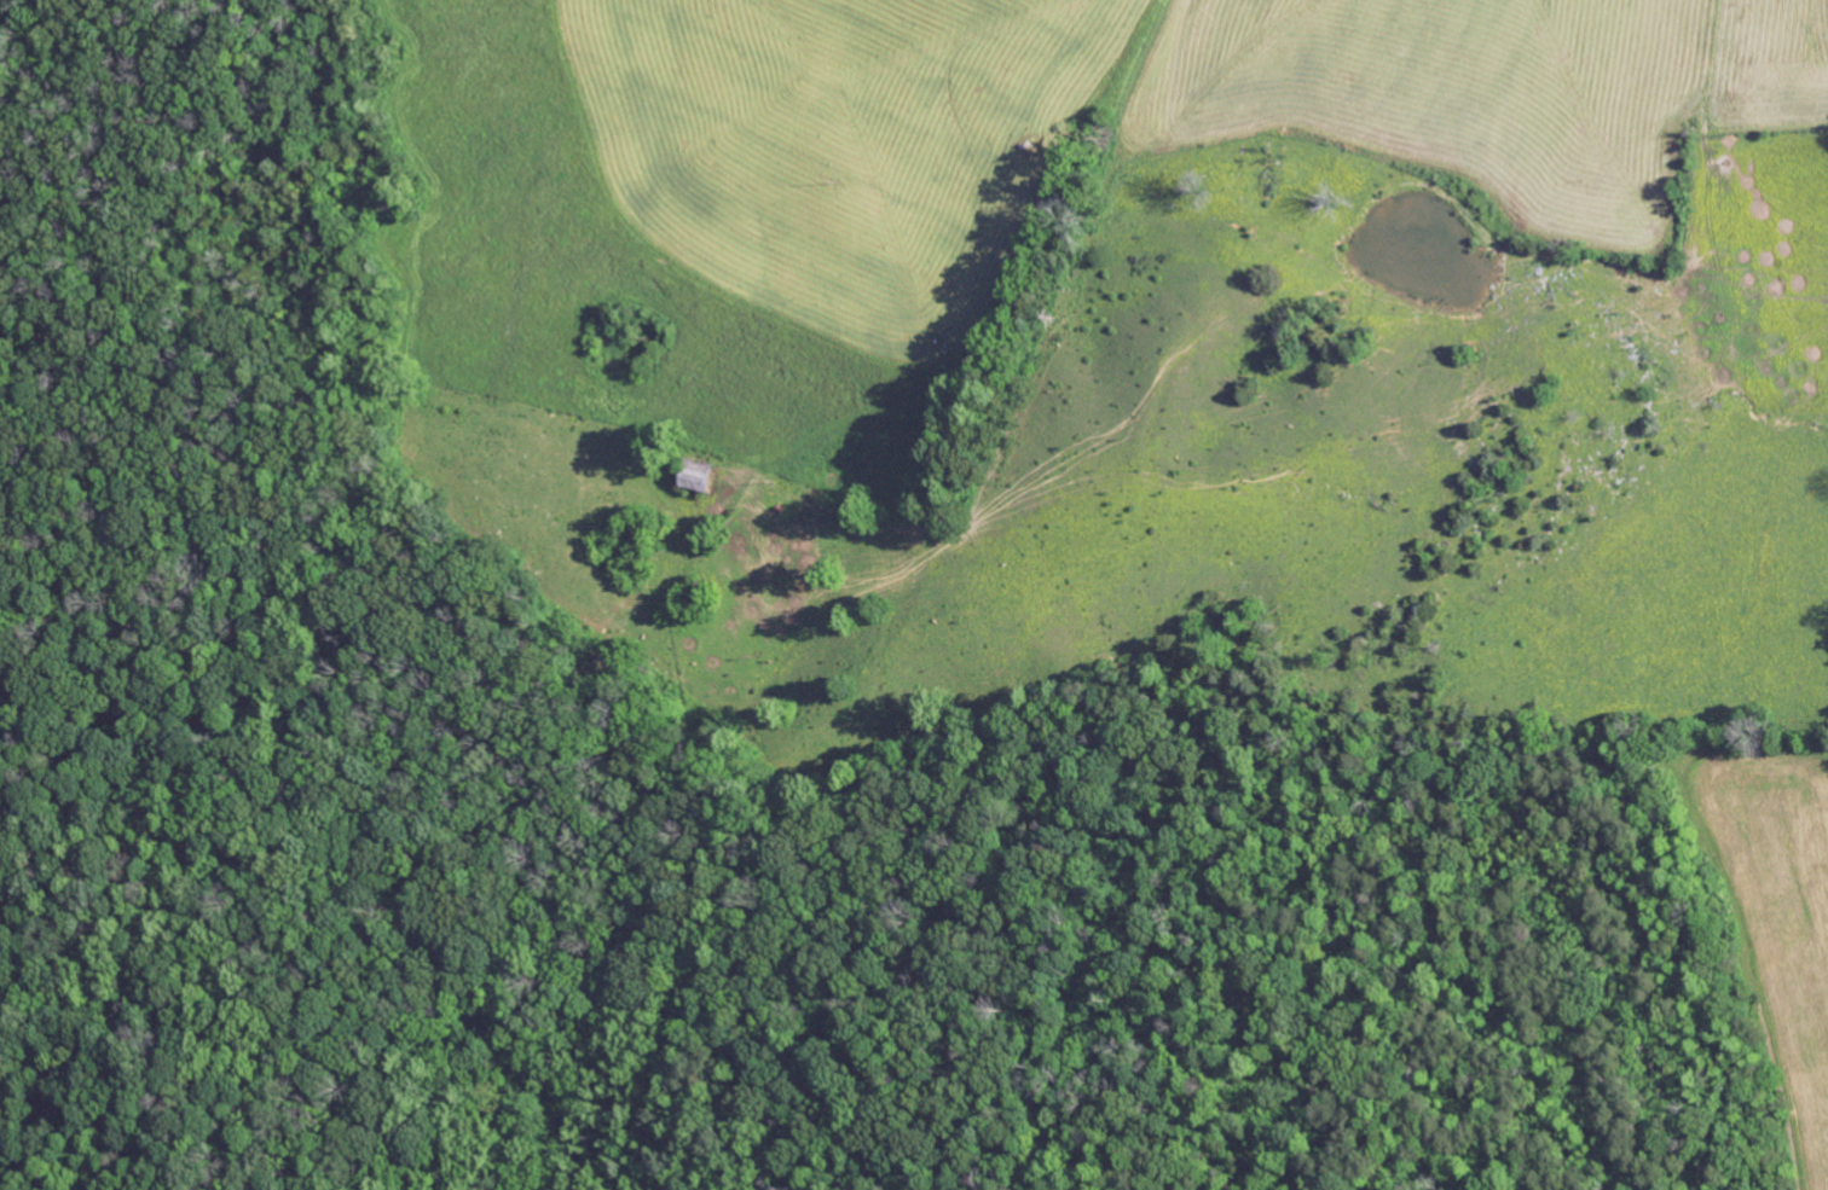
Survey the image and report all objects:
building: (696, 477)

